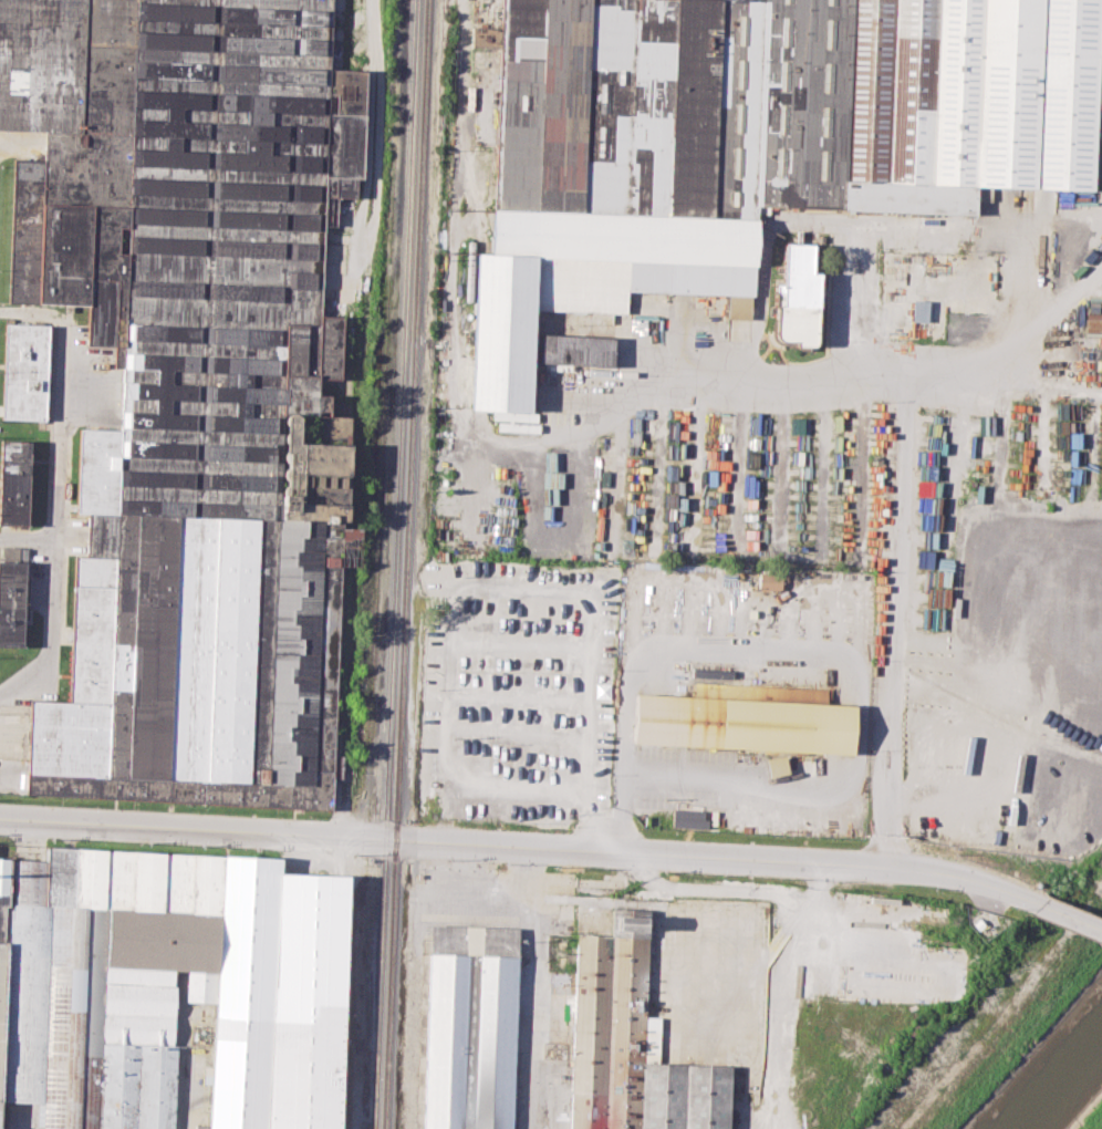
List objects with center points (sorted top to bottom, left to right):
building: (745, 141)
road: (907, 220)
building: (796, 298)
building: (576, 349)
building: (25, 371)
building: (190, 372)
road: (586, 410)
building: (14, 480)
road: (56, 491)
railway: (394, 564)
railway: (405, 564)
building: (769, 579)
building: (12, 595)
road: (490, 623)
road: (897, 623)
road: (819, 654)
building: (746, 713)
building: (776, 765)
building: (688, 818)
road: (524, 849)
road: (1072, 919)
road: (821, 938)
building: (170, 985)
road: (532, 988)
building: (471, 1023)
building: (632, 1044)
river: (1063, 1087)
road: (23, 1117)

